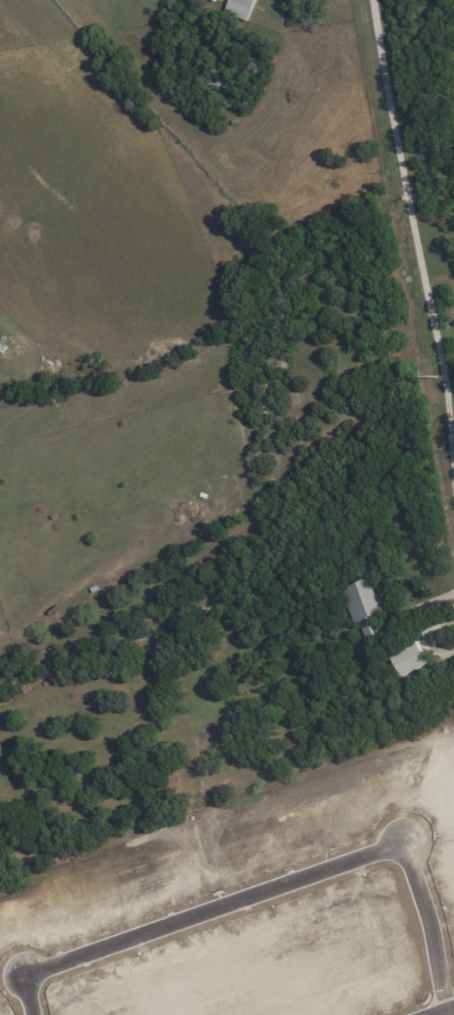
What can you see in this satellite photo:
building: (240, 8)
road: (414, 232)
power tower: (438, 379)
road: (423, 604)
building: (364, 606)
building: (408, 659)
road: (280, 881)
road: (442, 1010)

